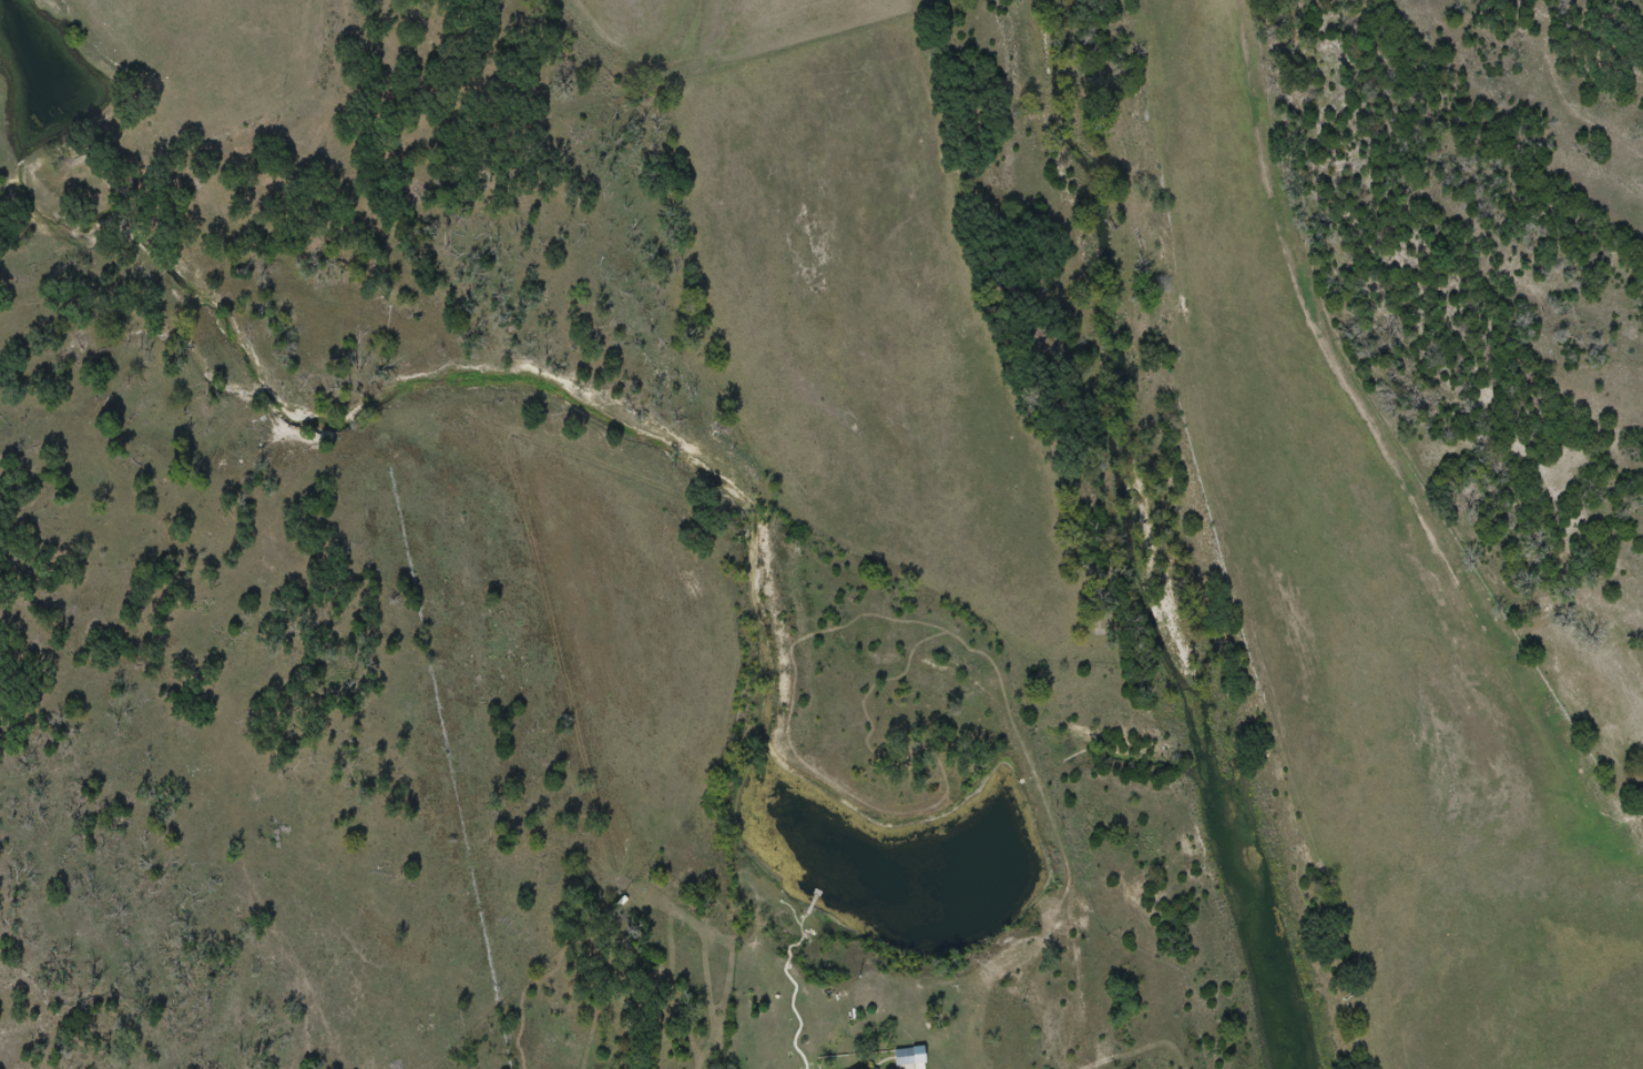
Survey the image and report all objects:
building: (906, 1058)

